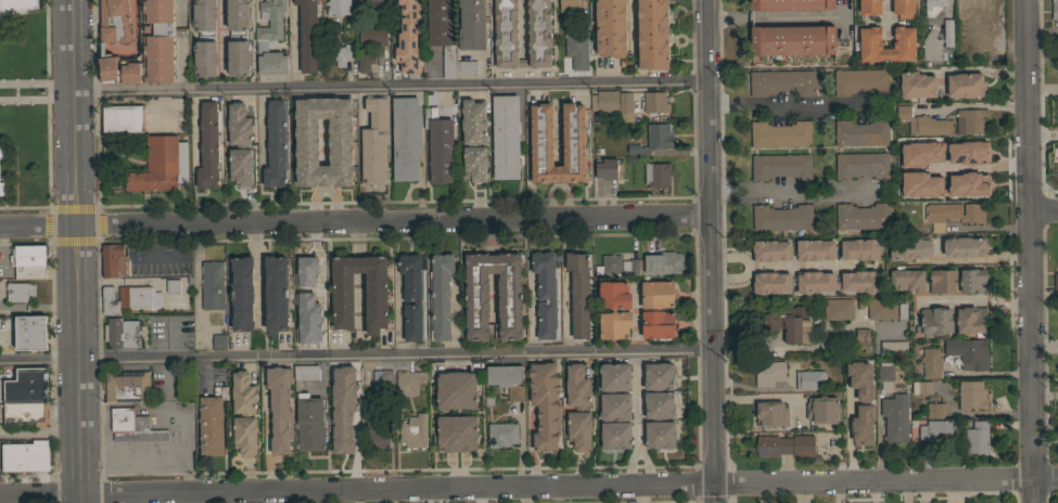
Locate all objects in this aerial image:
building: (368, 3)
building: (790, 4)
building: (16, 5)
building: (569, 5)
building: (400, 7)
building: (868, 7)
building: (931, 7)
building: (339, 8)
building: (902, 9)
building: (973, 10)
building: (1055, 10)
building: (225, 15)
road: (777, 16)
building: (114, 21)
building: (471, 24)
road: (632, 25)
building: (611, 27)
building: (374, 30)
building: (652, 34)
road: (220, 35)
building: (308, 36)
building: (506, 36)
building: (205, 37)
building: (238, 37)
building: (270, 38)
building: (445, 39)
building: (792, 39)
building: (936, 43)
building: (982, 43)
building: (865, 44)
road: (73, 47)
building: (577, 48)
building: (146, 49)
building: (343, 54)
building: (227, 59)
building: (366, 62)
road: (977, 67)
building: (861, 81)
building: (782, 82)
building: (965, 85)
building: (917, 86)
road: (391, 89)
building: (604, 101)
building: (625, 102)
building: (655, 102)
road: (788, 106)
building: (1055, 115)
building: (122, 118)
building: (971, 120)
building: (473, 121)
building: (922, 124)
building: (861, 133)
building: (540, 136)
building: (779, 136)
building: (505, 137)
building: (406, 138)
building: (653, 139)
building: (340, 141)
building: (374, 141)
building: (240, 144)
building: (276, 144)
building: (926, 144)
building: (208, 145)
building: (903, 145)
building: (439, 146)
building: (1, 153)
building: (961, 157)
building: (1055, 157)
building: (474, 163)
building: (161, 165)
building: (862, 165)
building: (781, 166)
building: (608, 168)
building: (596, 170)
building: (657, 173)
building: (912, 185)
building: (1, 189)
building: (930, 189)
building: (968, 189)
road: (795, 191)
road: (1044, 211)
building: (951, 214)
building: (862, 216)
building: (782, 217)
road: (355, 222)
road: (2, 242)
building: (963, 247)
building: (858, 248)
building: (909, 248)
road: (711, 250)
building: (813, 250)
building: (768, 251)
road: (1030, 251)
road: (731, 256)
road: (139, 259)
building: (396, 259)
building: (112, 260)
building: (28, 261)
building: (663, 262)
building: (609, 265)
building: (629, 267)
road: (810, 267)
building: (242, 270)
road: (259, 273)
road: (731, 278)
building: (906, 279)
building: (837, 282)
building: (941, 282)
building: (970, 282)
building: (768, 283)
building: (1055, 284)
building: (173, 285)
building: (212, 285)
building: (20, 292)
building: (242, 293)
building: (314, 293)
building: (276, 294)
building: (546, 294)
building: (579, 294)
building: (441, 295)
building: (412, 296)
building: (509, 296)
building: (569, 297)
road: (77, 298)
building: (129, 298)
road: (973, 298)
building: (342, 300)
building: (838, 308)
building: (614, 309)
building: (657, 309)
building: (880, 309)
building: (901, 311)
building: (934, 321)
building: (972, 321)
building: (305, 322)
building: (788, 324)
building: (30, 332)
building: (122, 333)
building: (862, 339)
building: (218, 340)
road: (1046, 344)
building: (893, 348)
building: (968, 352)
road: (355, 359)
building: (931, 362)
building: (885, 371)
building: (852, 372)
building: (768, 373)
building: (304, 374)
building: (614, 376)
building: (659, 376)
building: (342, 378)
building: (508, 379)
building: (811, 379)
building: (383, 381)
building: (408, 381)
building: (27, 385)
building: (127, 386)
building: (921, 387)
building: (566, 389)
building: (456, 390)
building: (232, 395)
building: (970, 396)
building: (545, 404)
road: (640, 404)
building: (659, 404)
building: (615, 405)
building: (578, 407)
building: (280, 408)
building: (823, 410)
building: (935, 410)
building: (267, 412)
building: (26, 413)
building: (244, 413)
building: (772, 413)
building: (895, 416)
building: (858, 418)
building: (309, 423)
building: (342, 423)
building: (212, 424)
building: (132, 426)
road: (180, 430)
building: (939, 430)
building: (374, 431)
building: (413, 431)
building: (457, 433)
building: (502, 434)
building: (615, 435)
building: (660, 435)
building: (974, 439)
building: (786, 446)
road: (638, 452)
building: (25, 456)
road: (183, 473)
road: (528, 486)
road: (524, 494)
road: (482, 495)
road: (204, 498)

